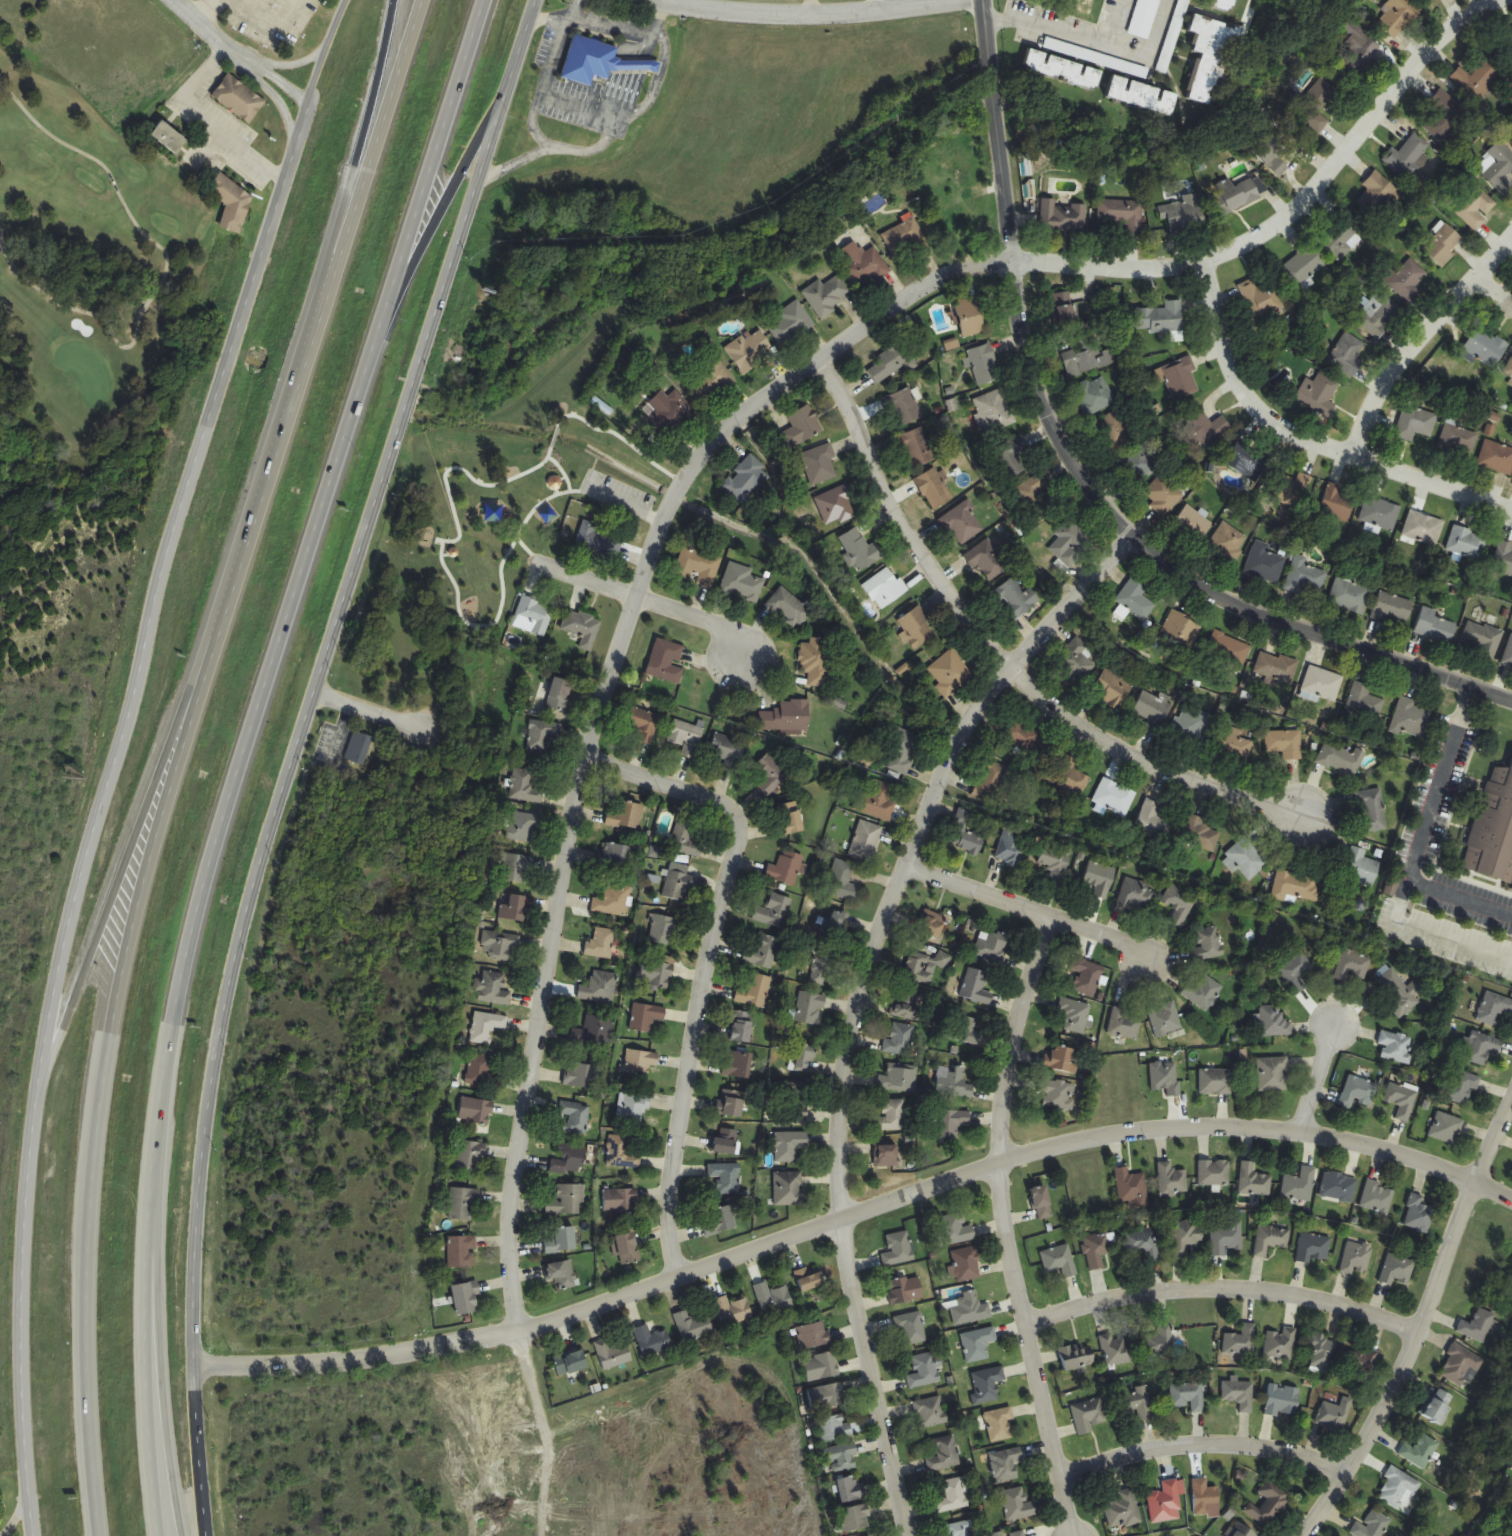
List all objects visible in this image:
road: (670, 2)
road: (683, 3)
building: (1224, 4)
road: (874, 7)
road: (809, 9)
road: (567, 11)
building: (1398, 15)
road: (655, 18)
building: (1144, 18)
road: (813, 19)
road: (546, 21)
road: (1116, 25)
road: (607, 28)
road: (1046, 30)
road: (525, 35)
building: (1508, 43)
building: (1358, 46)
road: (1151, 47)
road: (241, 55)
building: (1210, 58)
road: (290, 63)
building: (597, 70)
building: (1063, 70)
building: (1477, 80)
road: (540, 87)
building: (1143, 96)
building: (239, 99)
road: (279, 102)
building: (1316, 105)
road: (578, 109)
road: (630, 115)
road: (204, 116)
building: (1443, 117)
building: (169, 138)
building: (1274, 154)
road: (357, 156)
road: (368, 156)
building: (1408, 157)
road: (513, 163)
building: (1500, 168)
road: (430, 177)
building: (1238, 193)
building: (1377, 194)
building: (232, 201)
building: (1475, 208)
road: (440, 211)
building: (955, 211)
building: (1183, 215)
building: (1122, 216)
building: (1062, 217)
building: (1340, 235)
building: (904, 237)
building: (1442, 245)
road: (161, 249)
park: (91, 261)
building: (1304, 264)
building: (864, 265)
building: (1409, 280)
road: (1493, 291)
building: (827, 295)
building: (1260, 299)
building: (1064, 311)
building: (1379, 316)
building: (971, 317)
building: (1162, 318)
building: (792, 324)
road: (1419, 341)
building: (1485, 347)
building: (750, 350)
building: (1094, 355)
building: (1347, 355)
building: (892, 362)
building: (983, 364)
building: (1507, 375)
building: (711, 380)
building: (1179, 380)
building: (1318, 395)
building: (1096, 396)
building: (906, 407)
building: (994, 411)
building: (672, 413)
building: (1417, 422)
building: (803, 426)
building: (1205, 429)
building: (1114, 430)
building: (1457, 439)
road: (1304, 442)
building: (917, 448)
building: (1013, 454)
building: (1496, 458)
building: (1247, 461)
building: (819, 465)
building: (1137, 465)
road: (537, 466)
road: (562, 470)
road: (1084, 479)
building: (747, 480)
building: (934, 489)
building: (1032, 491)
building: (1292, 491)
building: (1163, 495)
building: (1338, 503)
park: (494, 506)
road: (623, 506)
building: (837, 506)
building: (1380, 513)
road: (663, 515)
building: (963, 524)
building: (1192, 525)
building: (1424, 529)
building: (597, 541)
road: (521, 542)
building: (1227, 542)
building: (1070, 543)
building: (1467, 543)
building: (860, 549)
building: (1503, 559)
building: (989, 560)
building: (1264, 563)
building: (698, 567)
building: (1305, 579)
building: (742, 583)
building: (885, 588)
road: (503, 593)
building: (1349, 596)
building: (1015, 599)
building: (1135, 599)
road: (647, 603)
road: (292, 607)
building: (789, 608)
building: (1393, 610)
building: (533, 617)
building: (1181, 627)
building: (1435, 627)
building: (583, 628)
building: (916, 629)
building: (1481, 639)
building: (1228, 652)
building: (1508, 654)
building: (1076, 660)
building: (666, 661)
building: (816, 662)
road: (999, 662)
building: (1277, 669)
building: (950, 673)
building: (1323, 684)
building: (1111, 690)
building: (556, 692)
building: (1364, 701)
road: (366, 710)
building: (1153, 710)
building: (787, 716)
building: (1410, 718)
building: (643, 723)
building: (1192, 725)
building: (542, 735)
building: (686, 737)
building: (1030, 741)
building: (1285, 743)
building: (1237, 746)
building: (359, 748)
building: (728, 750)
building: (903, 752)
road: (119, 756)
building: (1340, 760)
building: (770, 774)
building: (1070, 778)
building: (990, 783)
building: (526, 787)
road: (283, 790)
building: (1114, 798)
building: (877, 801)
building: (1371, 810)
building: (626, 816)
building: (792, 818)
building: (1152, 821)
building: (522, 827)
building: (1493, 828)
building: (970, 831)
building: (1202, 835)
road: (1423, 838)
building: (686, 839)
building: (866, 841)
building: (1011, 847)
building: (615, 856)
road: (130, 858)
building: (1245, 859)
building: (1057, 862)
building: (517, 868)
building: (1361, 868)
building: (787, 869)
building: (1099, 879)
building: (677, 882)
building: (842, 882)
building: (1295, 888)
building: (1135, 894)
building: (613, 901)
building: (1179, 902)
building: (514, 909)
building: (773, 911)
road: (135, 913)
road: (1028, 914)
building: (837, 925)
building: (932, 925)
building: (665, 929)
road: (1430, 937)
building: (500, 943)
building: (601, 943)
building: (1208, 944)
building: (991, 945)
building: (763, 952)
building: (1352, 965)
road: (708, 966)
building: (821, 967)
building: (925, 967)
building: (655, 971)
building: (1294, 971)
building: (1087, 976)
building: (977, 986)
building: (599, 988)
building: (493, 989)
building: (755, 991)
building: (1203, 993)
building: (1397, 993)
road: (861, 1002)
building: (905, 1005)
building: (810, 1008)
building: (1493, 1008)
building: (646, 1017)
building: (1076, 1017)
building: (1165, 1019)
building: (1274, 1022)
building: (1124, 1024)
building: (741, 1026)
building: (487, 1027)
building: (966, 1029)
building: (593, 1032)
building: (899, 1039)
building: (1396, 1046)
building: (1481, 1048)
building: (805, 1057)
building: (1061, 1060)
building: (639, 1062)
building: (738, 1064)
building: (480, 1071)
building: (1272, 1074)
building: (579, 1075)
building: (1165, 1077)
building: (899, 1079)
road: (1317, 1079)
building: (1215, 1081)
building: (953, 1083)
building: (1462, 1087)
building: (1359, 1090)
building: (1056, 1094)
building: (794, 1099)
building: (1401, 1099)
building: (731, 1103)
building: (632, 1107)
building: (475, 1110)
building: (892, 1116)
building: (575, 1117)
building: (951, 1123)
building: (1446, 1128)
building: (723, 1142)
building: (789, 1146)
building: (622, 1153)
building: (469, 1155)
building: (885, 1155)
building: (568, 1159)
building: (1214, 1173)
building: (725, 1177)
building: (1172, 1180)
building: (1254, 1180)
building: (1299, 1186)
building: (1339, 1187)
building: (789, 1188)
building: (1132, 1189)
road: (147, 1194)
building: (1378, 1199)
building: (567, 1200)
building: (620, 1201)
building: (1042, 1202)
building: (463, 1204)
building: (1419, 1214)
road: (854, 1216)
building: (718, 1221)
road: (999, 1228)
building: (955, 1230)
building: (1186, 1237)
building: (1226, 1238)
building: (1271, 1239)
building: (562, 1241)
building: (1141, 1243)
building: (1313, 1248)
building: (627, 1249)
building: (897, 1249)
building: (1098, 1250)
building: (461, 1252)
building: (1357, 1258)
building: (1059, 1261)
building: (966, 1264)
building: (1398, 1271)
building: (561, 1274)
road: (161, 1276)
building: (808, 1279)
building: (905, 1290)
road: (1222, 1291)
building: (465, 1299)
building: (773, 1299)
building: (970, 1309)
building: (733, 1312)
road: (1421, 1323)
building: (1479, 1326)
building: (693, 1327)
building: (911, 1328)
building: (812, 1336)
building: (652, 1341)
building: (1241, 1341)
building: (1159, 1342)
building: (978, 1344)
building: (1281, 1344)
building: (1117, 1350)
building: (1321, 1354)
building: (613, 1355)
building: (1077, 1356)
building: (571, 1363)
building: (821, 1367)
building: (1461, 1367)
building: (1357, 1368)
building: (924, 1371)
building: (987, 1385)
building: (1239, 1394)
building: (1189, 1395)
building: (826, 1397)
building: (1282, 1401)
building: (1138, 1403)
building: (1438, 1407)
building: (930, 1412)
building: (1333, 1414)
building: (1088, 1416)
building: (1000, 1425)
building: (834, 1428)
road: (1199, 1445)
building: (1419, 1452)
building: (945, 1454)
building: (841, 1457)
building: (1006, 1464)
building: (851, 1489)
building: (1399, 1490)
road: (716, 1492)
building: (953, 1496)
building: (1204, 1497)
building: (1165, 1503)
building: (1268, 1504)
building: (1017, 1505)
building: (1122, 1510)
building: (854, 1519)
building: (1371, 1525)
building: (960, 1528)
building: (1239, 1530)
building: (1021, 1534)
building: (874, 1535)

